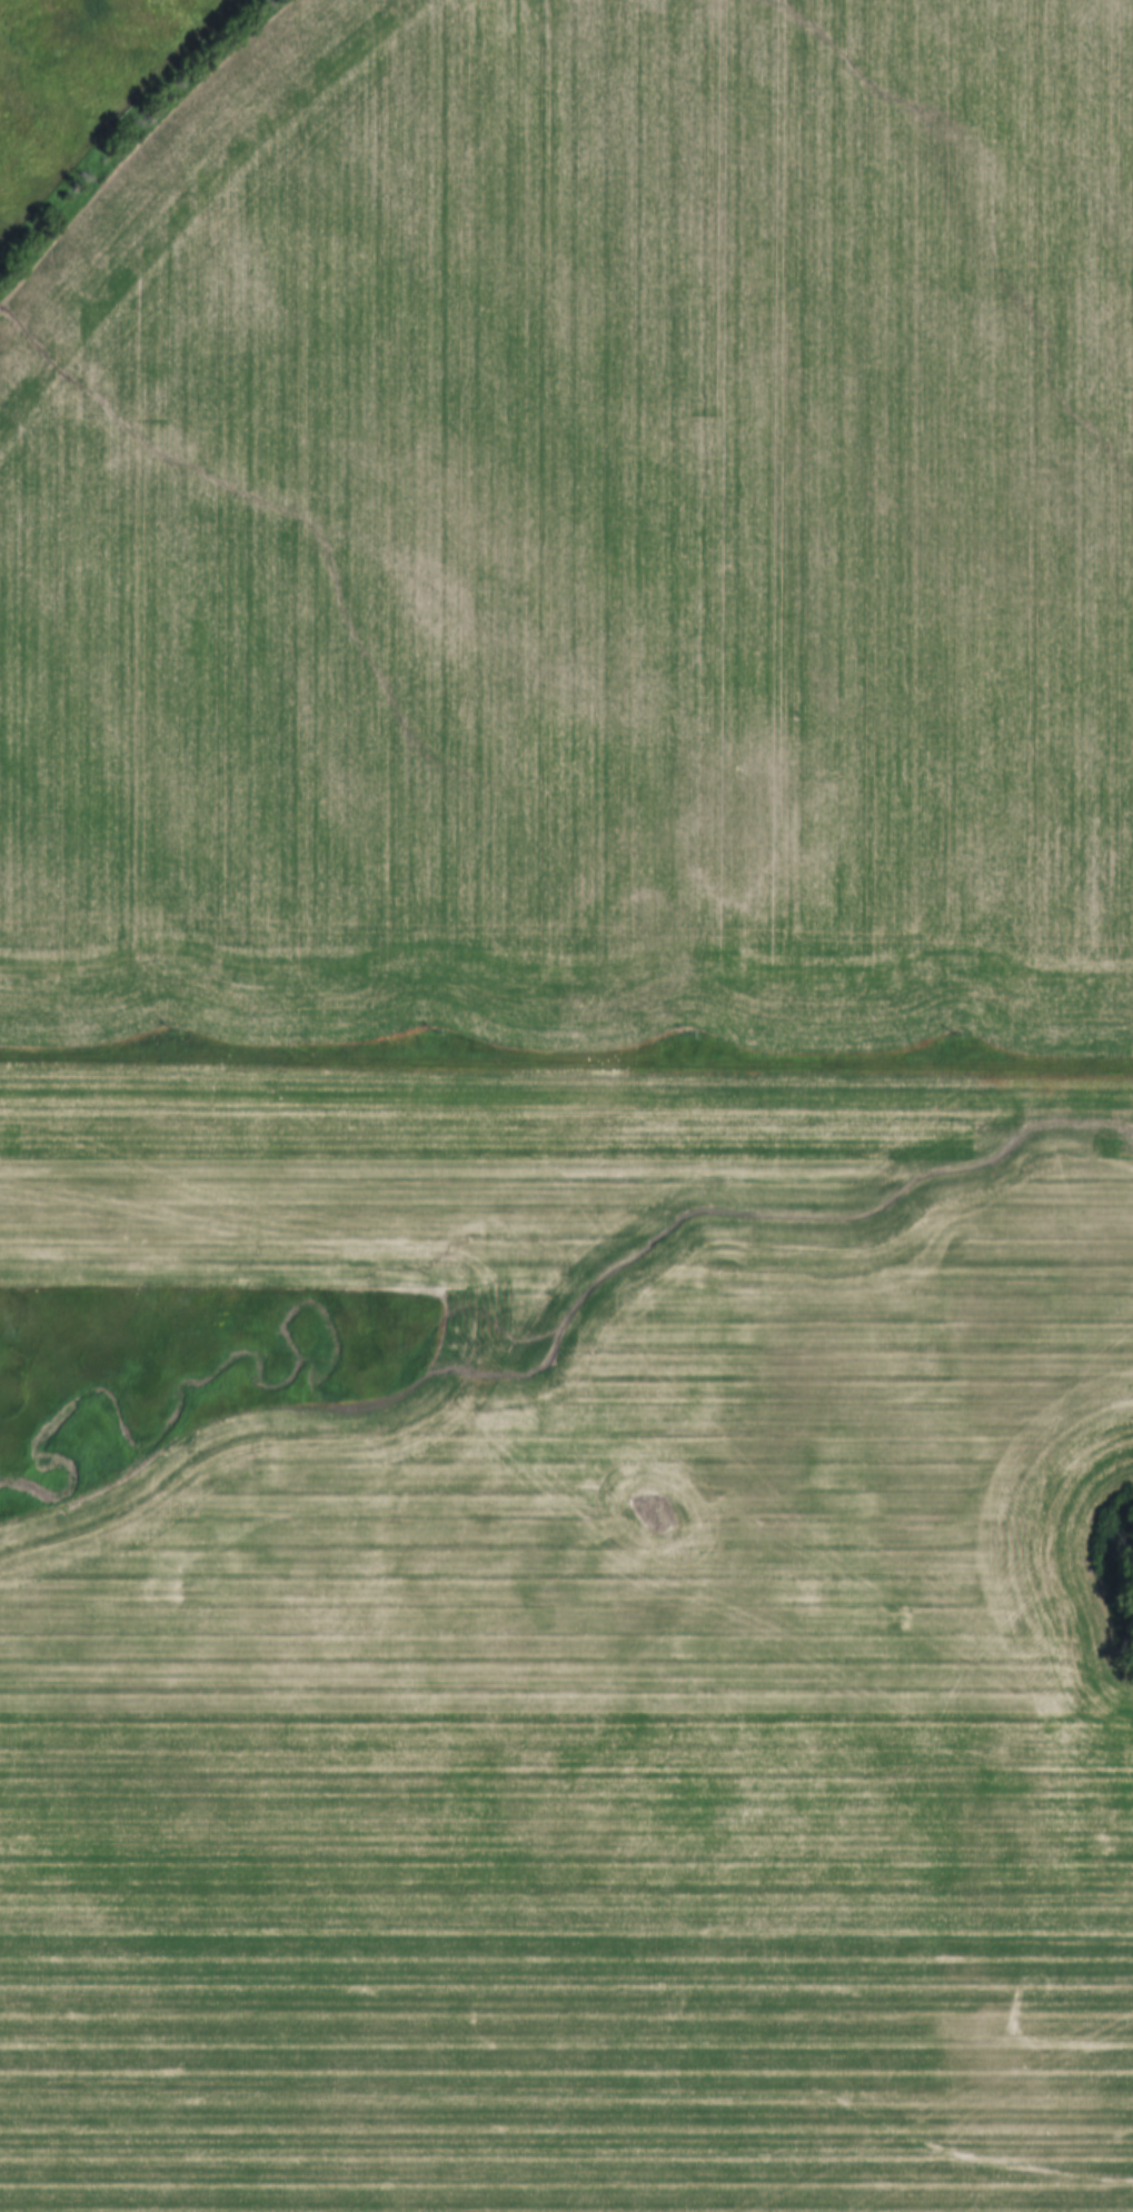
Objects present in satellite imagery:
road: (566, 1059)

